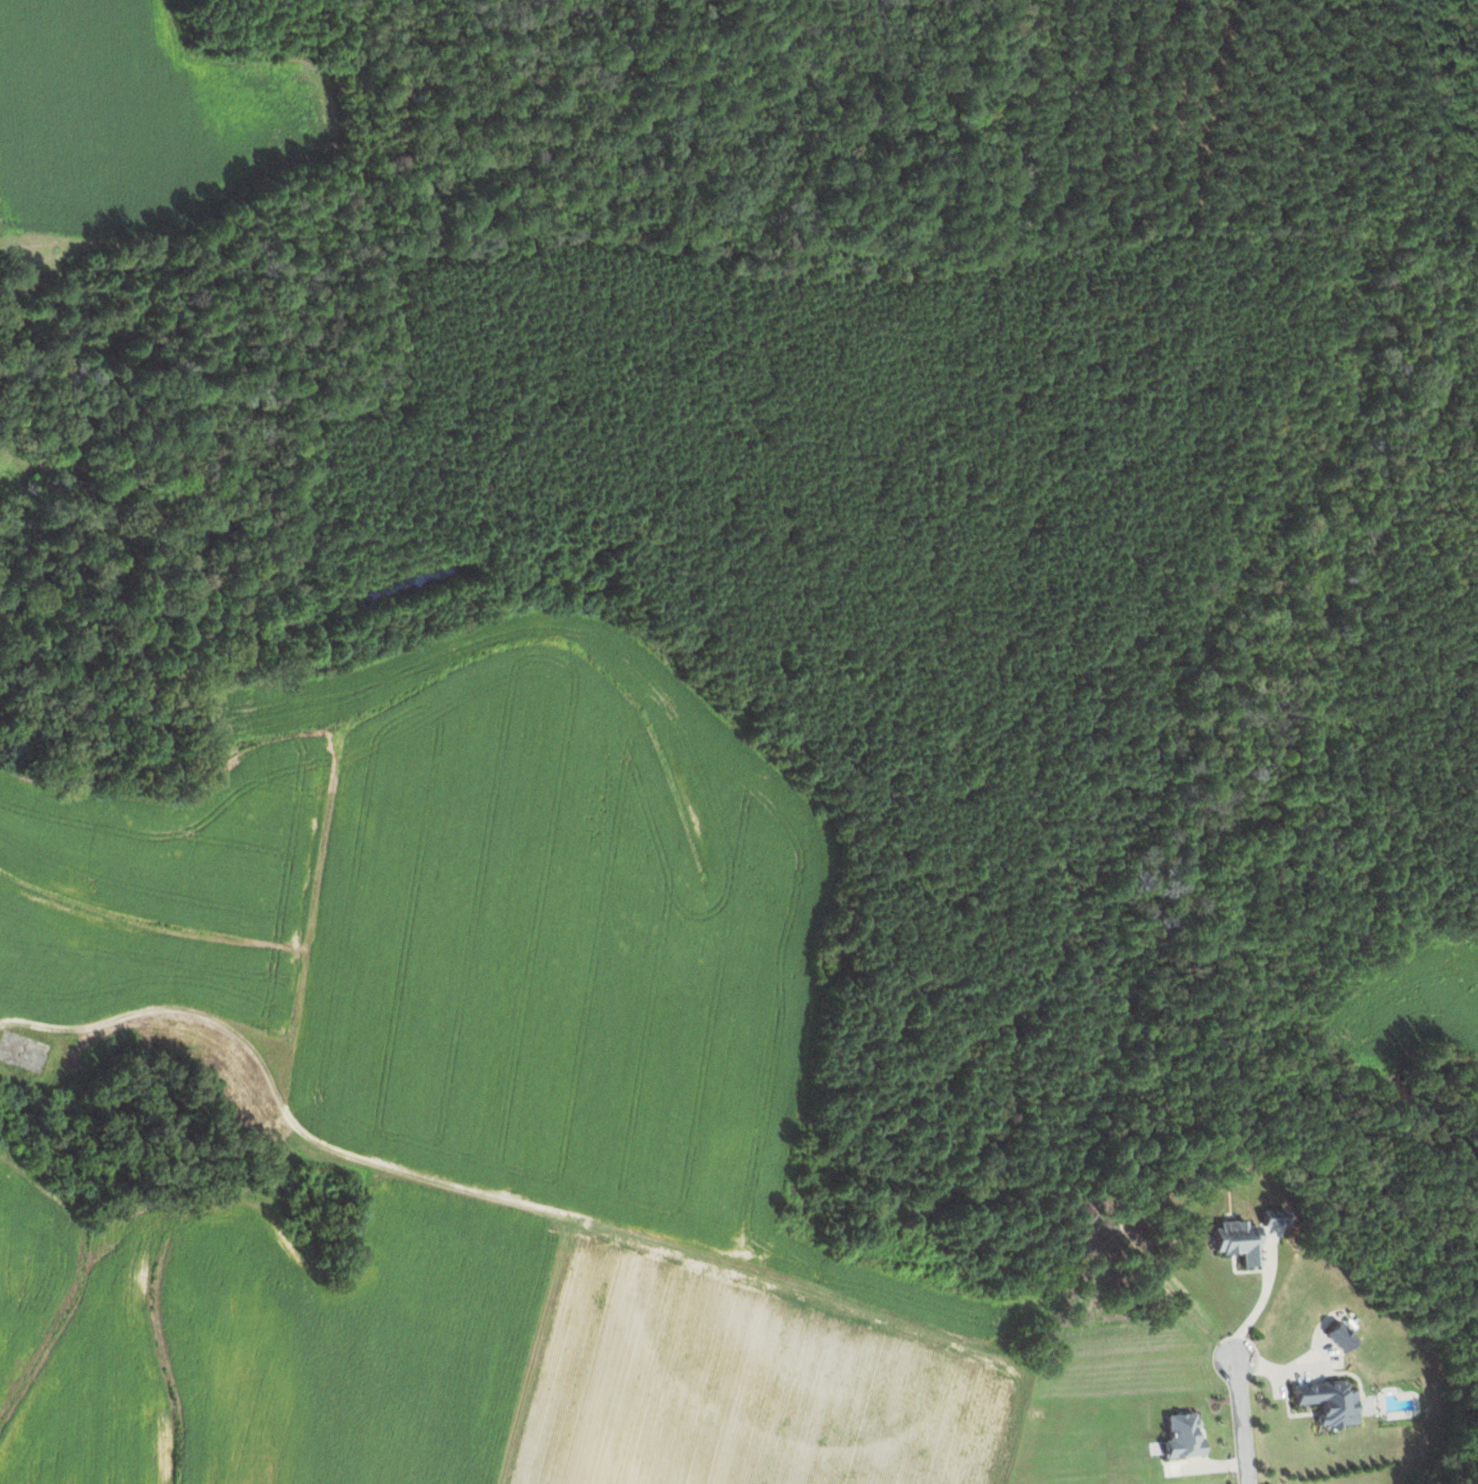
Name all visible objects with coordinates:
building: (1236, 1243)
road: (1254, 1313)
building: (1345, 1408)
road: (1240, 1421)
building: (1180, 1438)

